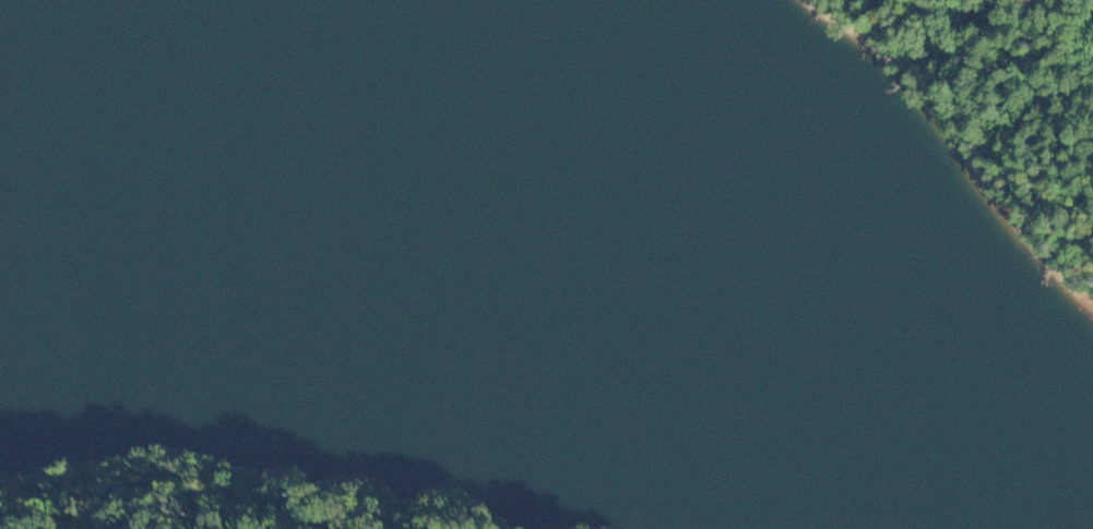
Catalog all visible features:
river: (533, 225)

